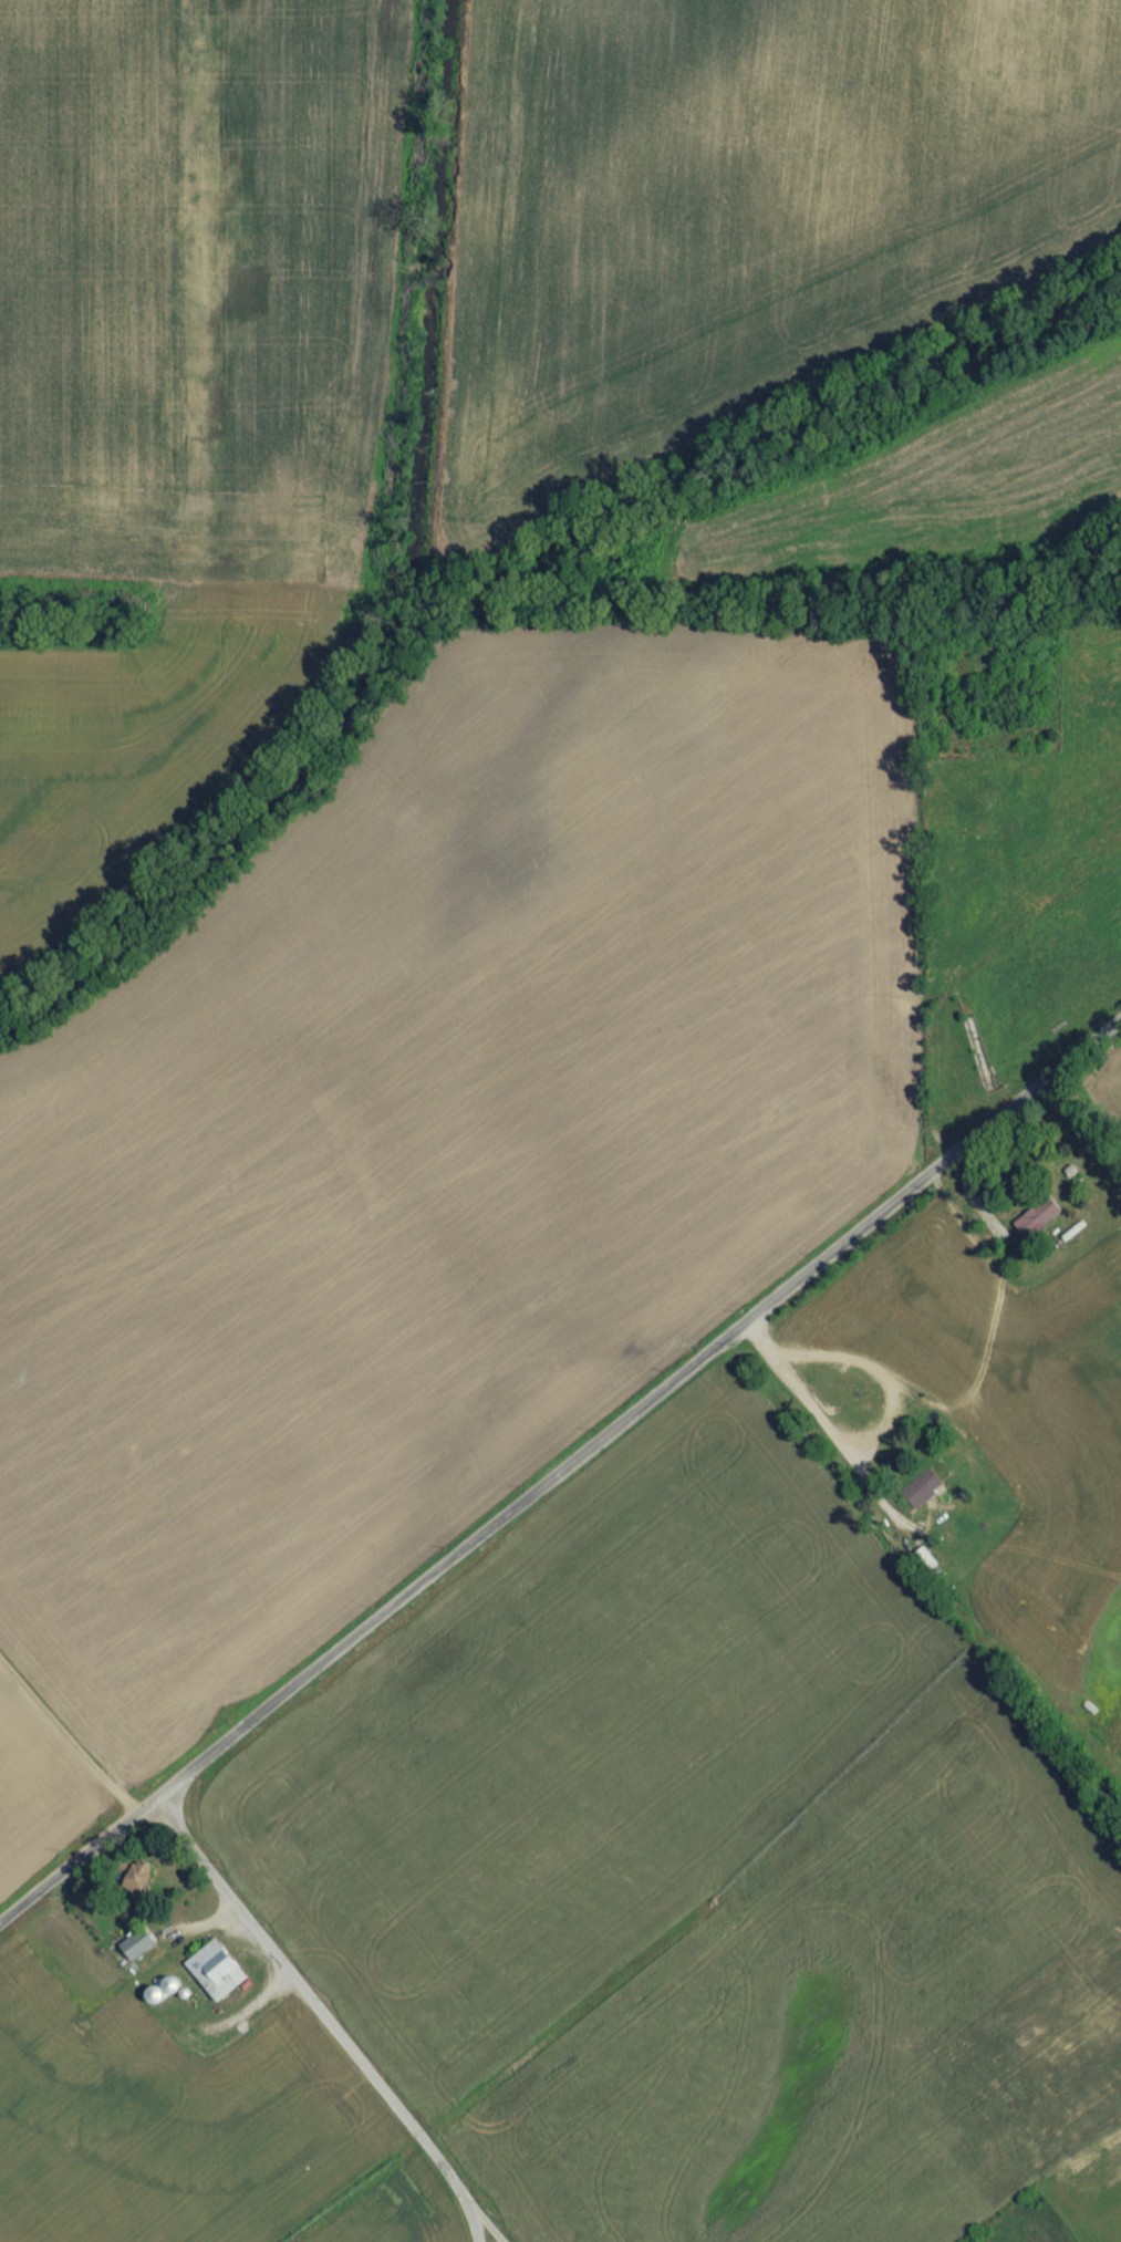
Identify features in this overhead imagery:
building: (1039, 1225)
road: (882, 1372)
road: (832, 1431)
road: (558, 1482)
building: (923, 1497)
building: (925, 1569)
building: (139, 1883)
building: (139, 1952)
building: (218, 1979)
road: (320, 2030)
road: (485, 2235)

